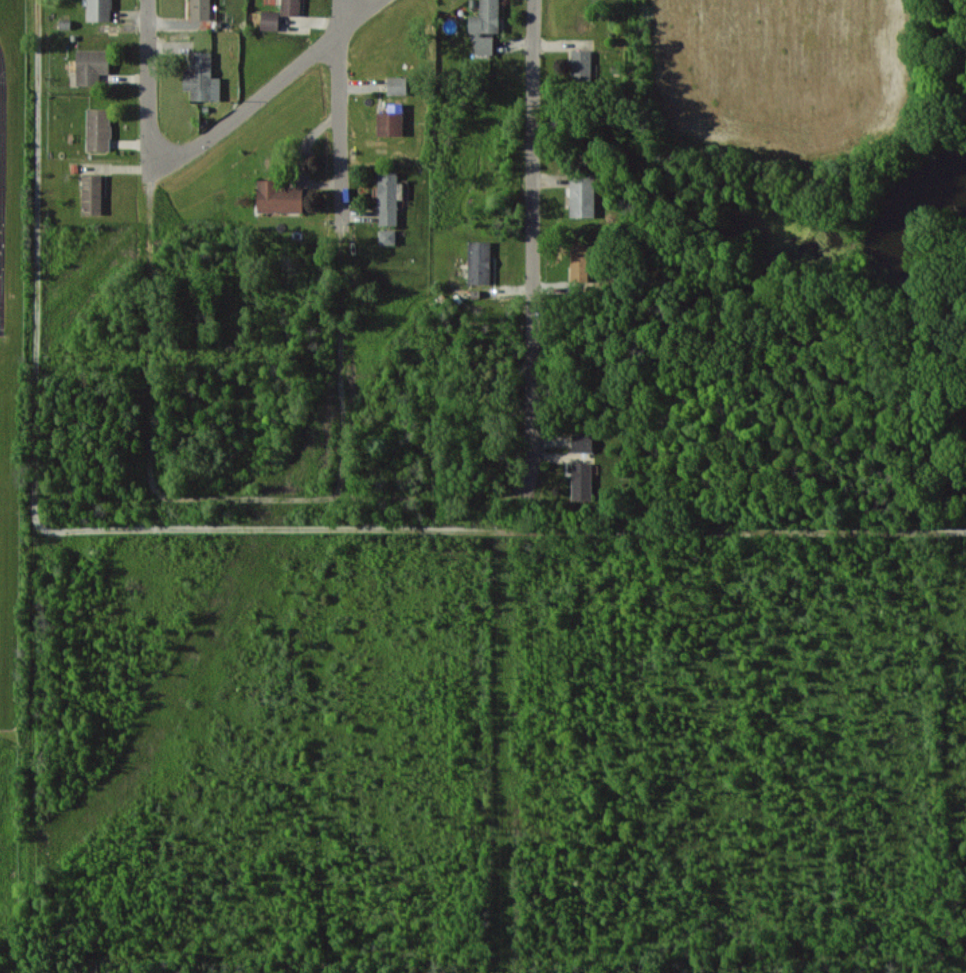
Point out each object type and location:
building: (290, 7)
building: (200, 9)
building: (99, 10)
building: (270, 20)
building: (486, 26)
building: (581, 64)
building: (91, 66)
building: (202, 78)
building: (398, 85)
road: (266, 88)
building: (391, 120)
building: (99, 129)
track: (2, 184)
building: (92, 193)
building: (583, 196)
building: (279, 197)
building: (388, 198)
building: (388, 236)
road: (532, 243)
road: (342, 249)
road: (148, 252)
building: (479, 262)
building: (580, 262)
building: (582, 442)
building: (582, 480)
road: (339, 499)

